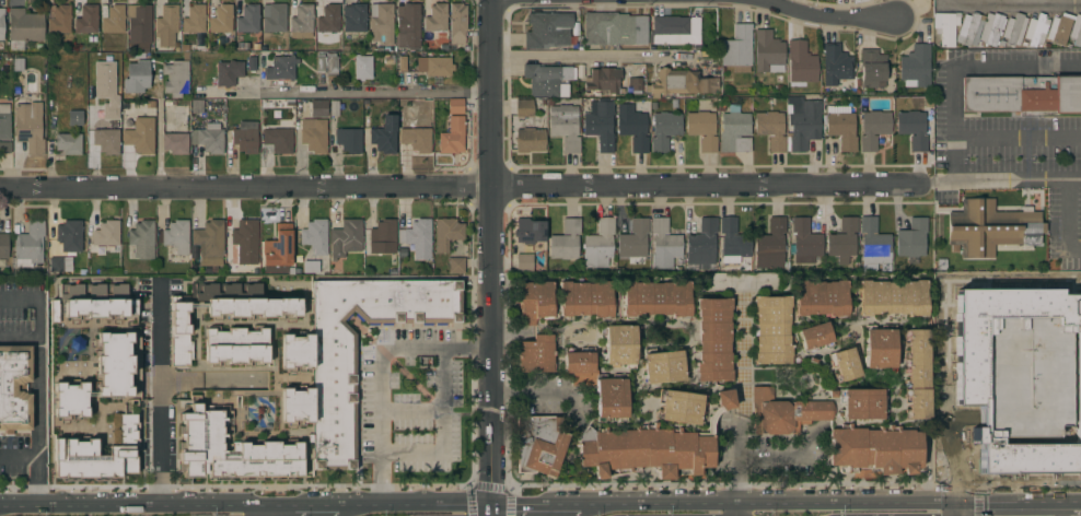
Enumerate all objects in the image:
road: (1009, 3)
building: (274, 17)
road: (827, 17)
building: (58, 19)
building: (84, 19)
building: (328, 19)
building: (113, 20)
building: (194, 20)
building: (221, 20)
building: (247, 20)
building: (301, 22)
building: (353, 22)
building: (435, 22)
building: (1, 23)
building: (165, 23)
building: (381, 23)
building: (457, 23)
building: (24, 25)
building: (139, 25)
building: (407, 25)
building: (945, 27)
building: (990, 28)
building: (547, 30)
building: (614, 30)
building: (968, 30)
building: (1014, 30)
building: (1058, 30)
building: (1036, 31)
building: (1076, 31)
building: (676, 32)
building: (737, 48)
building: (768, 52)
road: (592, 57)
building: (319, 63)
building: (402, 63)
building: (800, 64)
building: (835, 64)
building: (916, 64)
building: (330, 66)
building: (433, 66)
building: (361, 67)
road: (961, 67)
building: (280, 68)
building: (872, 68)
building: (228, 73)
building: (136, 77)
building: (176, 77)
building: (547, 79)
building: (603, 80)
building: (681, 82)
building: (636, 85)
building: (106, 87)
road: (376, 95)
building: (1022, 95)
building: (455, 105)
building: (53, 106)
building: (196, 106)
building: (315, 107)
building: (523, 107)
building: (181, 114)
building: (74, 118)
building: (4, 122)
building: (28, 125)
building: (803, 125)
building: (565, 126)
building: (600, 126)
building: (632, 126)
building: (840, 127)
building: (702, 129)
building: (770, 129)
building: (872, 129)
building: (913, 129)
building: (663, 130)
building: (734, 132)
building: (313, 134)
building: (140, 136)
building: (384, 136)
building: (452, 136)
building: (245, 137)
building: (209, 138)
building: (416, 139)
road: (1018, 139)
building: (278, 140)
building: (348, 140)
building: (530, 140)
building: (106, 141)
road: (158, 141)
building: (175, 142)
building: (68, 143)
building: (5, 148)
road: (1016, 180)
road: (937, 183)
road: (460, 187)
road: (1067, 221)
building: (981, 228)
building: (106, 233)
building: (245, 233)
building: (446, 233)
building: (69, 235)
building: (177, 237)
building: (380, 237)
building: (417, 237)
building: (346, 238)
building: (911, 238)
building: (142, 239)
building: (566, 241)
building: (842, 241)
building: (528, 242)
building: (635, 242)
building: (732, 242)
building: (804, 242)
building: (209, 243)
building: (874, 243)
building: (664, 244)
building: (3, 245)
building: (28, 245)
building: (315, 245)
building: (598, 245)
building: (701, 245)
building: (770, 245)
building: (278, 247)
road: (495, 249)
building: (60, 263)
building: (456, 266)
building: (893, 297)
building: (585, 298)
building: (655, 298)
building: (821, 298)
building: (534, 302)
building: (253, 309)
building: (91, 310)
building: (772, 329)
building: (179, 335)
building: (814, 336)
building: (713, 340)
building: (619, 344)
building: (234, 347)
building: (879, 349)
building: (295, 352)
building: (536, 354)
building: (968, 363)
building: (845, 364)
building: (114, 365)
building: (662, 366)
road: (380, 367)
building: (917, 374)
building: (596, 385)
building: (14, 387)
road: (534, 391)
road: (37, 399)
road: (163, 400)
building: (70, 401)
building: (334, 403)
building: (861, 403)
building: (295, 407)
building: (679, 408)
building: (783, 412)
building: (1079, 425)
road: (443, 427)
building: (127, 430)
building: (538, 444)
building: (651, 448)
building: (231, 450)
building: (873, 451)
road: (775, 454)
building: (1035, 458)
building: (92, 459)
road: (736, 465)
road: (1070, 499)
traffic signals: (493, 500)
road: (536, 500)
road: (415, 501)
road: (659, 501)
road: (899, 501)
traffic signals: (960, 501)
road: (135, 502)
road: (304, 502)
road: (493, 507)
road: (1060, 507)
road: (271, 508)
road: (737, 508)
road: (960, 508)

